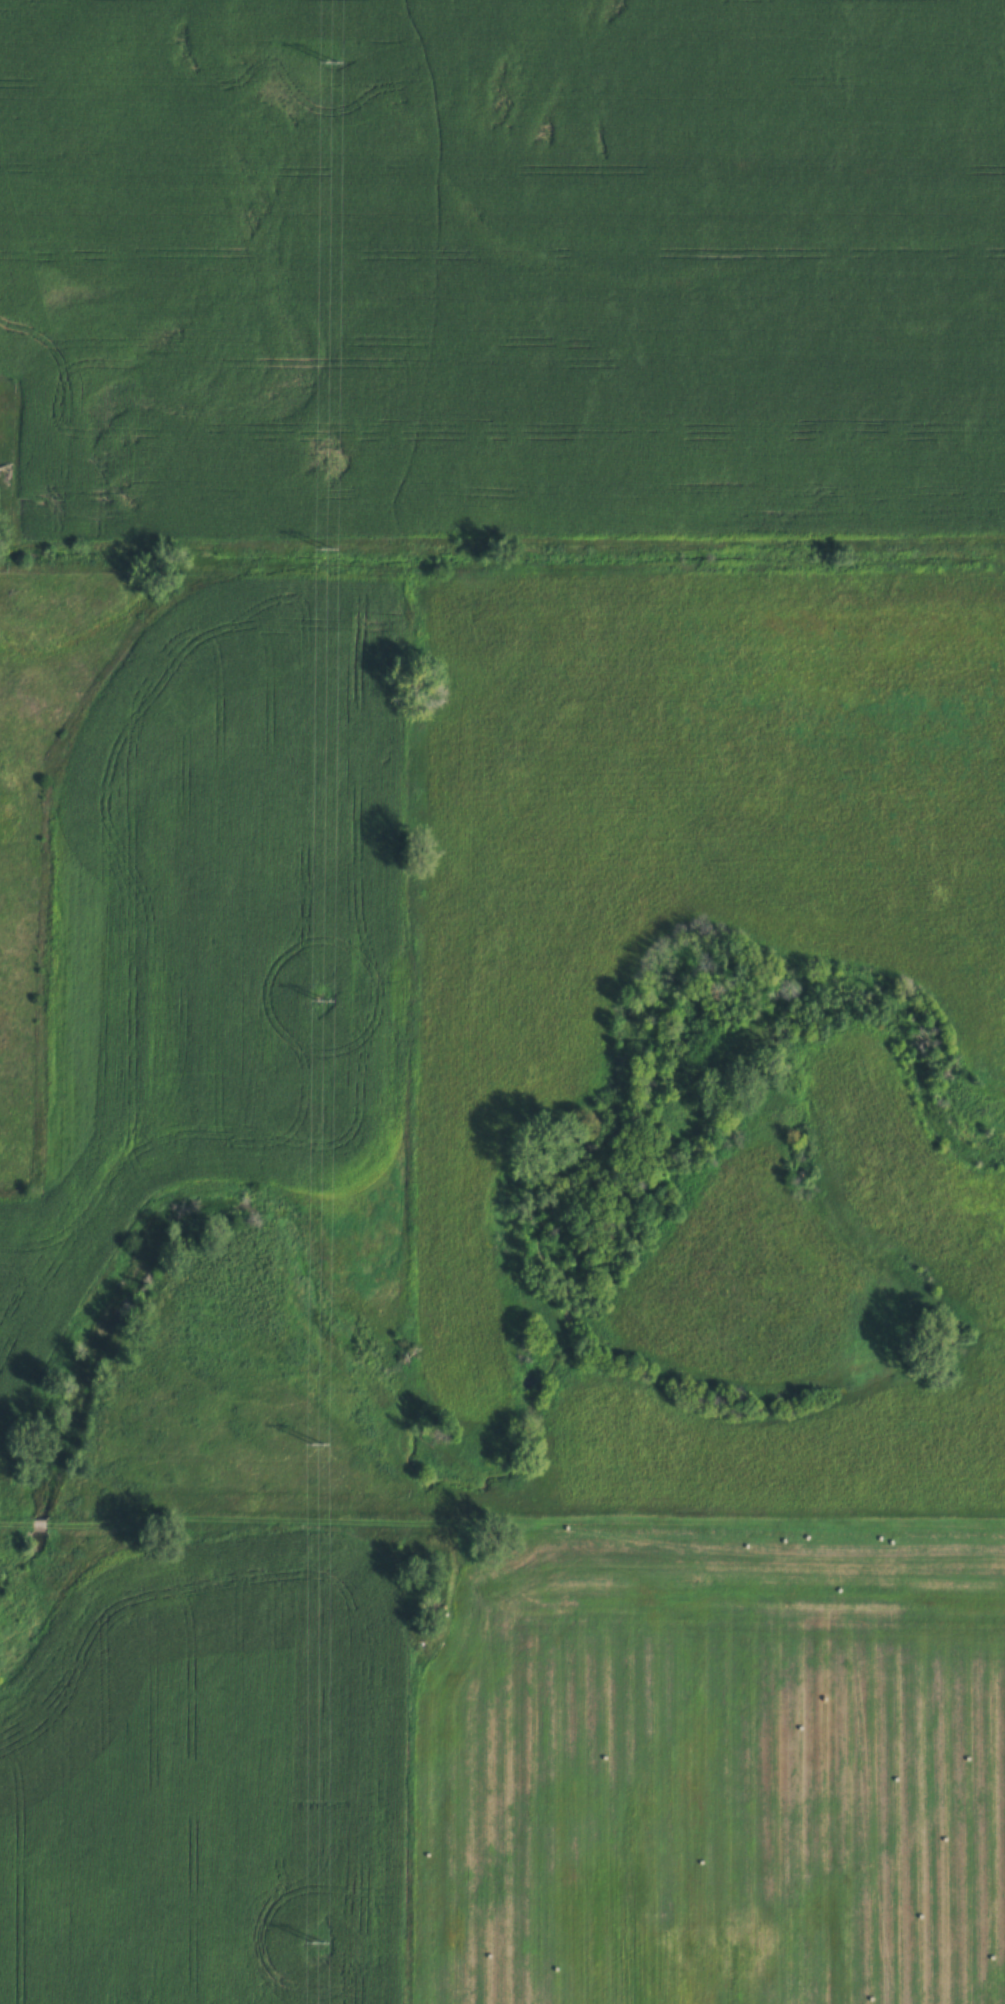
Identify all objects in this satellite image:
power tower: (336, 61)
power tower: (328, 550)
power tower: (324, 997)
power tower: (320, 1443)
road: (502, 1521)
power tower: (319, 1939)

